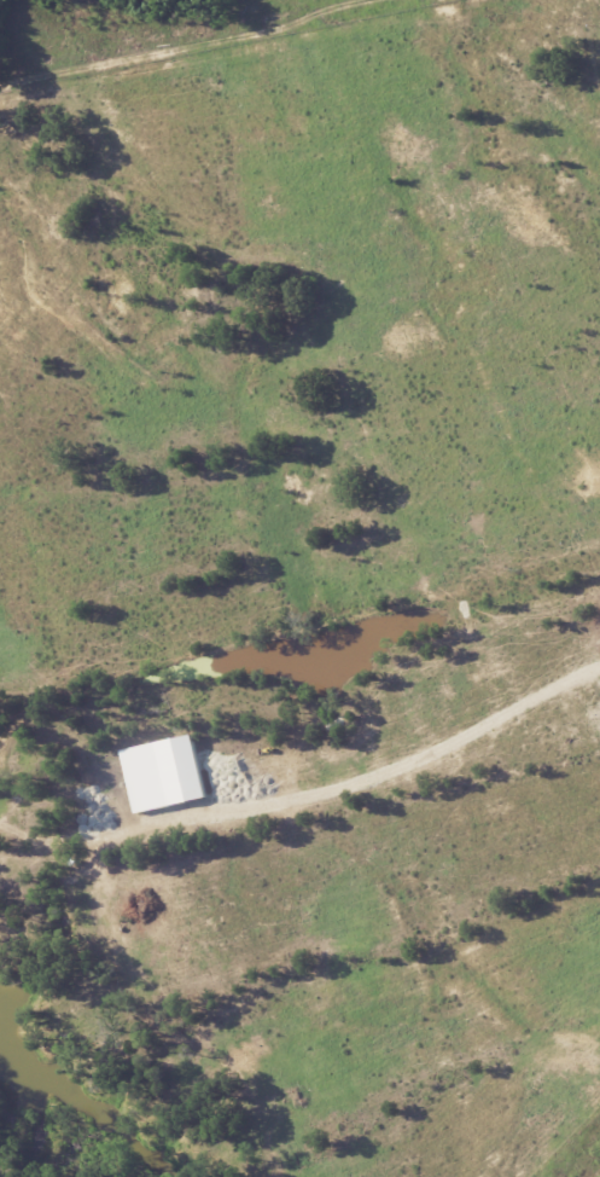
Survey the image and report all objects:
building: (165, 773)

